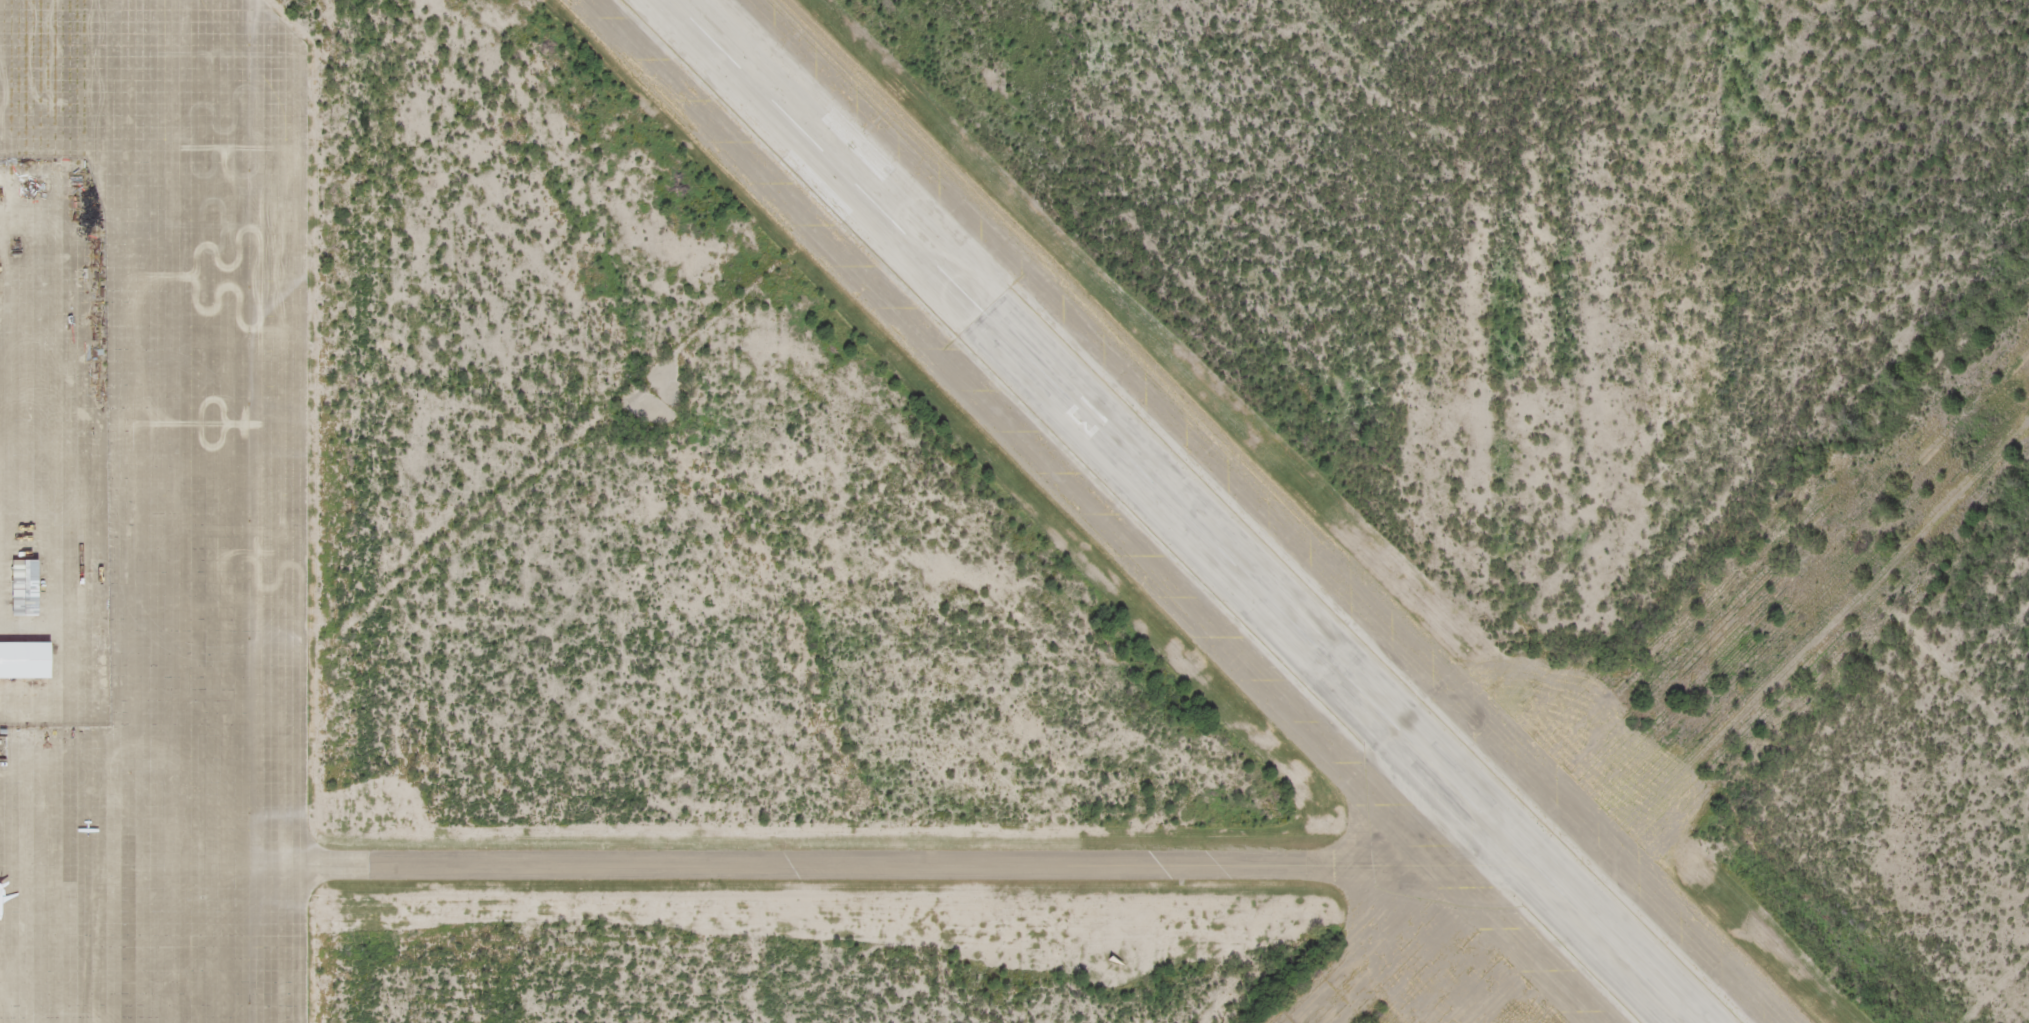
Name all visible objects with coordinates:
building: (15, 18)
airport: (1014, 511)
airport runway: (1179, 511)
airport apron: (157, 512)
building: (22, 588)
airport taxiway: (929, 874)

